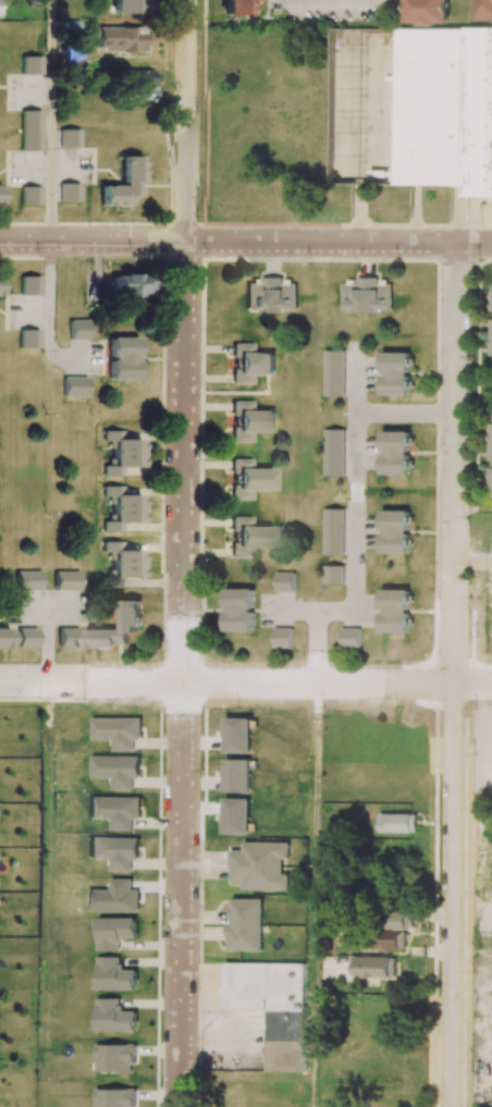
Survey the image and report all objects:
road: (329, 2)
building: (128, 7)
building: (236, 8)
building: (488, 9)
building: (428, 11)
street lamp: (303, 22)
street lamp: (354, 23)
street lamp: (198, 26)
building: (118, 39)
road: (346, 41)
building: (32, 64)
building: (139, 86)
building: (444, 108)
street lamp: (198, 111)
road: (186, 121)
building: (30, 131)
building: (70, 138)
road: (368, 168)
road: (377, 175)
building: (124, 183)
building: (0, 190)
building: (70, 192)
building: (30, 196)
road: (50, 199)
road: (358, 208)
road: (415, 213)
road: (457, 213)
street lamp: (464, 217)
road: (470, 220)
street lamp: (376, 224)
street lamp: (243, 225)
road: (246, 242)
street lamp: (133, 257)
street lamp: (208, 257)
building: (30, 285)
building: (127, 286)
building: (270, 295)
building: (366, 295)
building: (77, 329)
building: (29, 339)
street lamp: (41, 350)
street lamp: (202, 357)
street lamp: (436, 357)
building: (123, 358)
building: (249, 362)
building: (334, 372)
building: (395, 372)
building: (74, 386)
road: (354, 411)
road: (404, 414)
building: (249, 421)
building: (333, 451)
building: (395, 452)
building: (122, 453)
building: (249, 479)
building: (491, 497)
building: (122, 508)
street lamp: (469, 516)
building: (332, 531)
building: (394, 531)
building: (248, 537)
street lamp: (201, 557)
road: (353, 557)
building: (123, 561)
building: (332, 575)
building: (28, 580)
building: (66, 580)
building: (284, 580)
building: (113, 582)
street lamp: (45, 587)
road: (30, 607)
road: (66, 608)
building: (238, 608)
road: (311, 610)
building: (394, 610)
building: (130, 614)
street lamp: (469, 636)
building: (26, 637)
building: (67, 637)
building: (282, 637)
building: (4, 638)
building: (350, 638)
road: (47, 644)
road: (315, 647)
street lamp: (200, 657)
street lamp: (107, 665)
road: (182, 674)
road: (452, 675)
road: (246, 682)
street lamp: (237, 699)
street lamp: (395, 700)
street lamp: (433, 726)
building: (116, 730)
building: (115, 770)
street lamp: (199, 773)
building: (237, 775)
building: (115, 810)
building: (396, 822)
building: (115, 851)
building: (260, 865)
street lamp: (467, 878)
street lamp: (199, 881)
road: (312, 895)
building: (115, 897)
building: (404, 920)
building: (247, 924)
building: (114, 932)
building: (392, 940)
building: (377, 967)
building: (114, 974)
street lamp: (198, 986)
street lamp: (465, 992)
building: (272, 1006)
building: (114, 1016)
building: (114, 1057)
street lamp: (464, 1071)
building: (114, 1097)
street lamp: (197, 1104)
park: (358, 1105)

